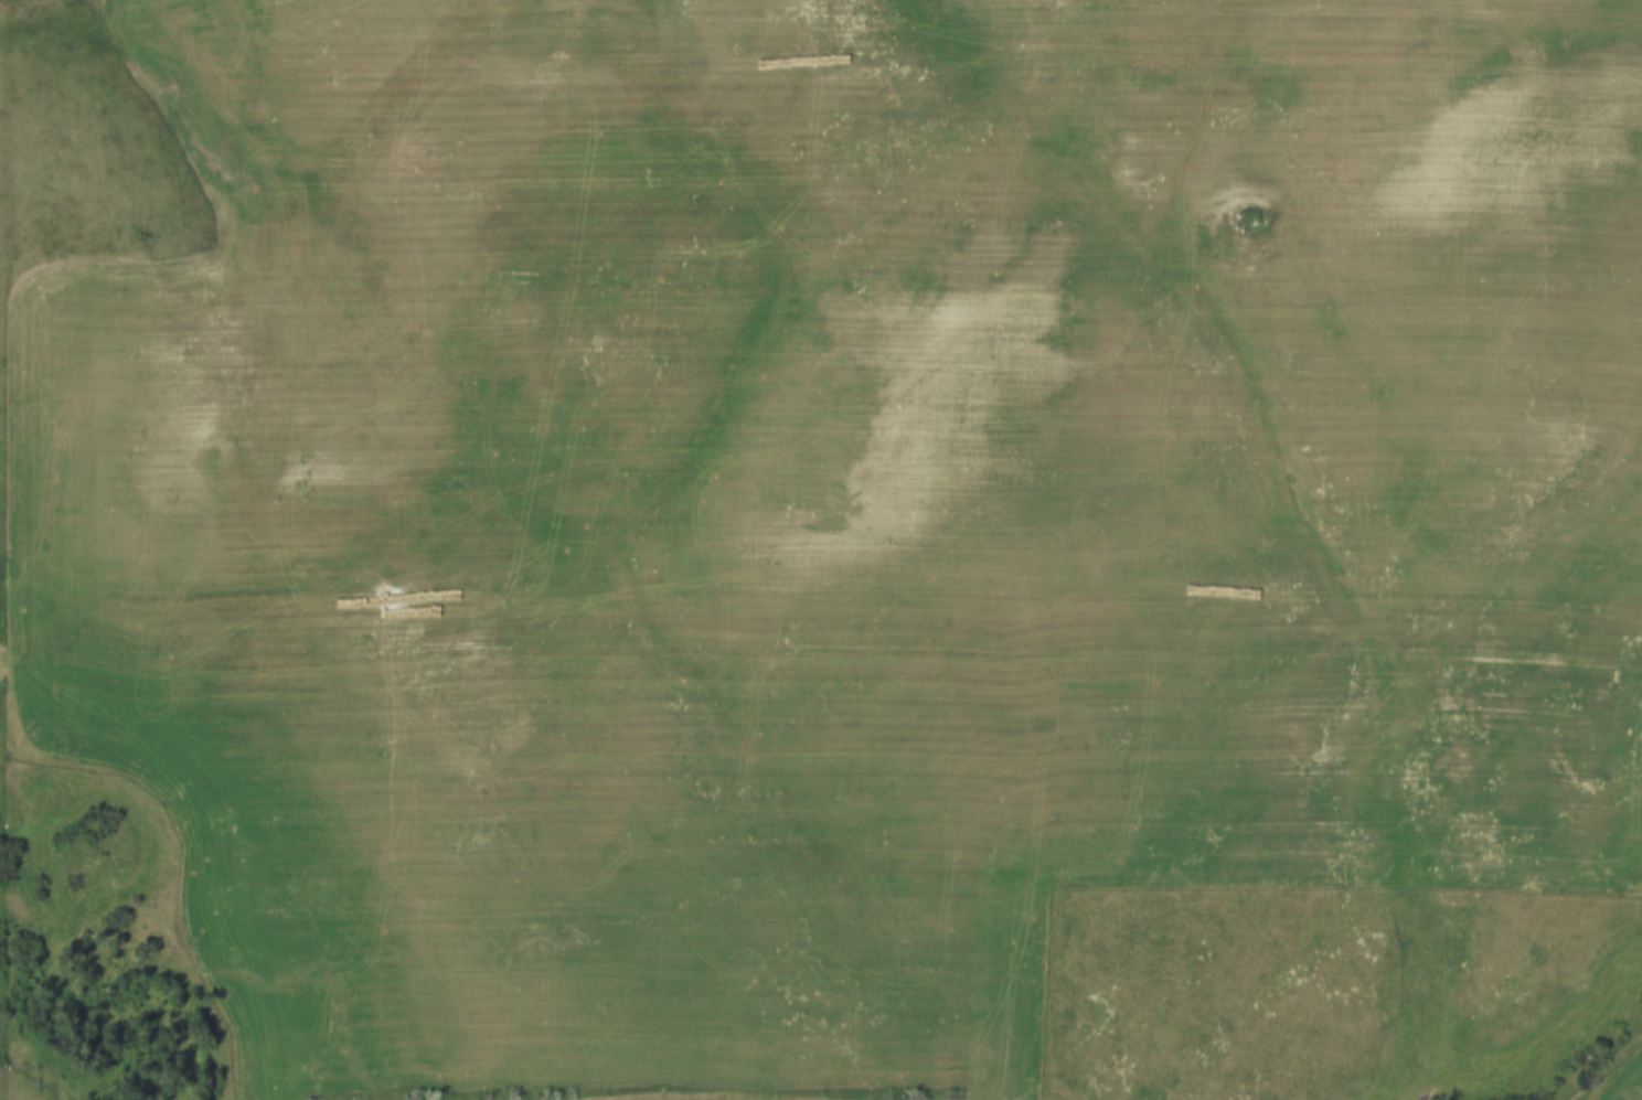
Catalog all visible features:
building: (63, 682)

